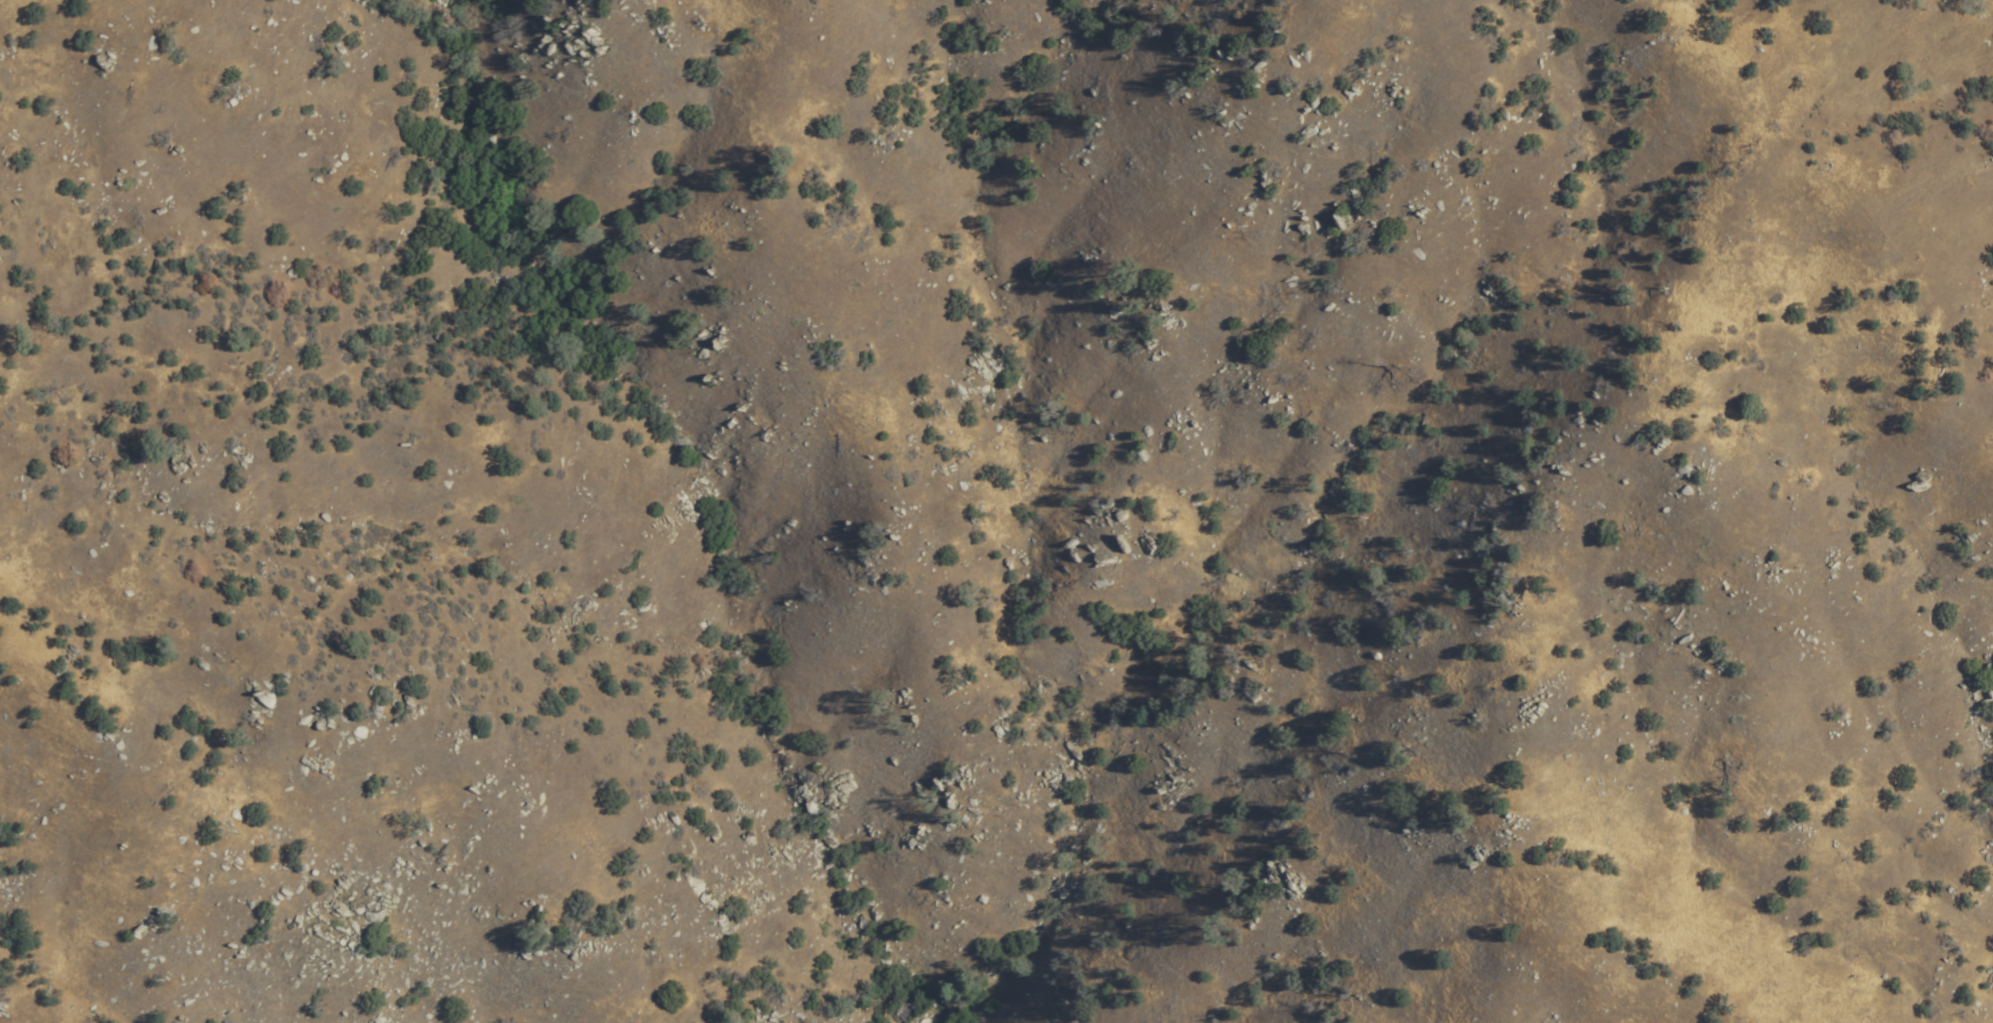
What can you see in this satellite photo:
road: (9, 602)

